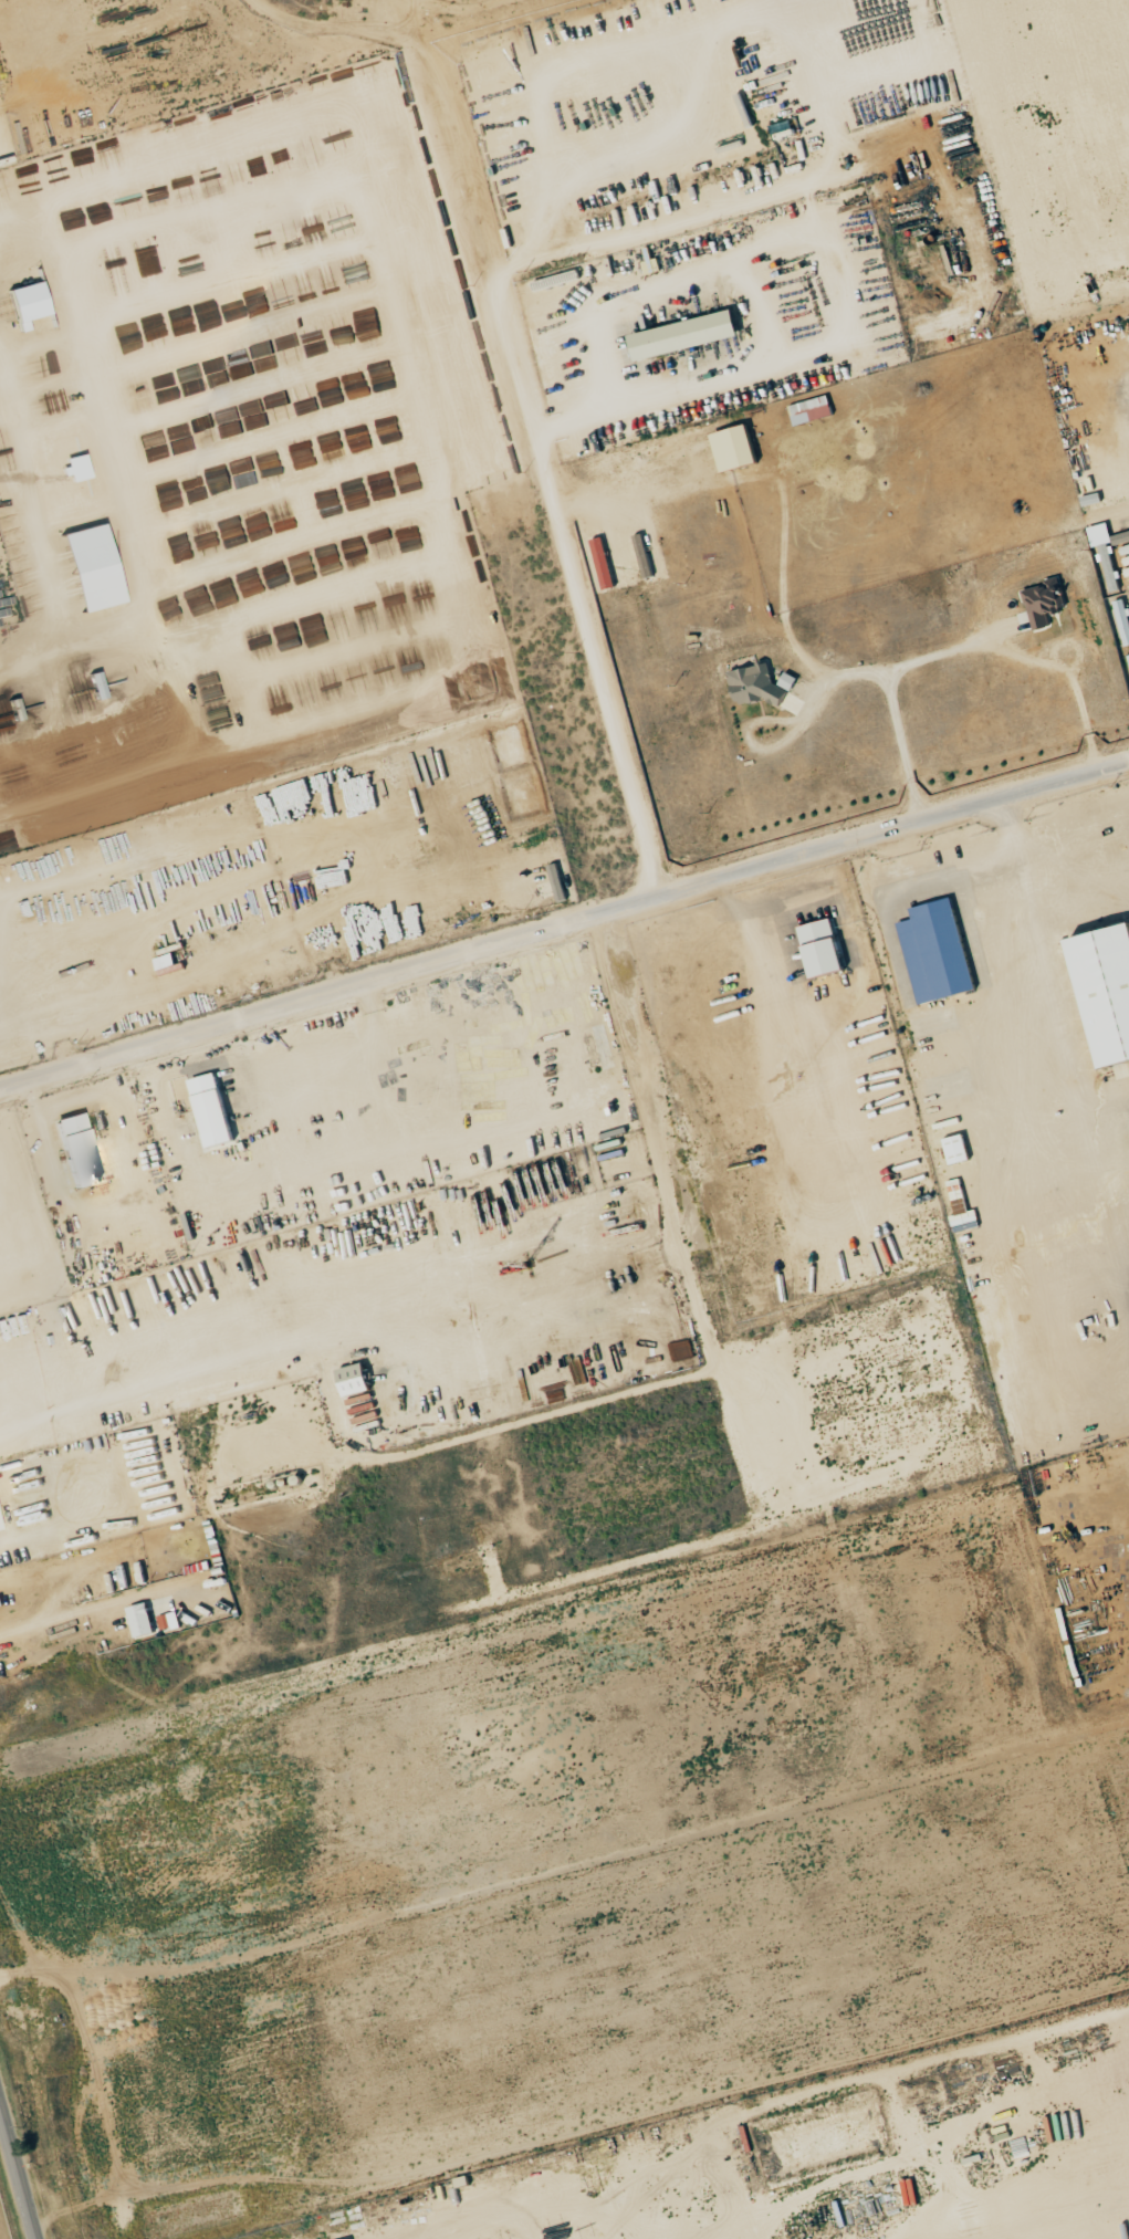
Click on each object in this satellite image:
building: (30, 302)
building: (689, 334)
road: (520, 383)
building: (813, 409)
building: (739, 447)
building: (1102, 534)
building: (606, 563)
building: (95, 566)
building: (1046, 604)
building: (1123, 610)
road: (956, 649)
building: (762, 684)
road: (564, 921)
building: (827, 948)
building: (940, 952)
building: (1111, 988)
building: (215, 1110)
building: (80, 1149)
building: (960, 1149)
building: (962, 1204)
building: (358, 1380)
building: (0, 1527)
road: (85, 1609)
building: (144, 1620)
building: (170, 1621)
road: (19, 2169)

